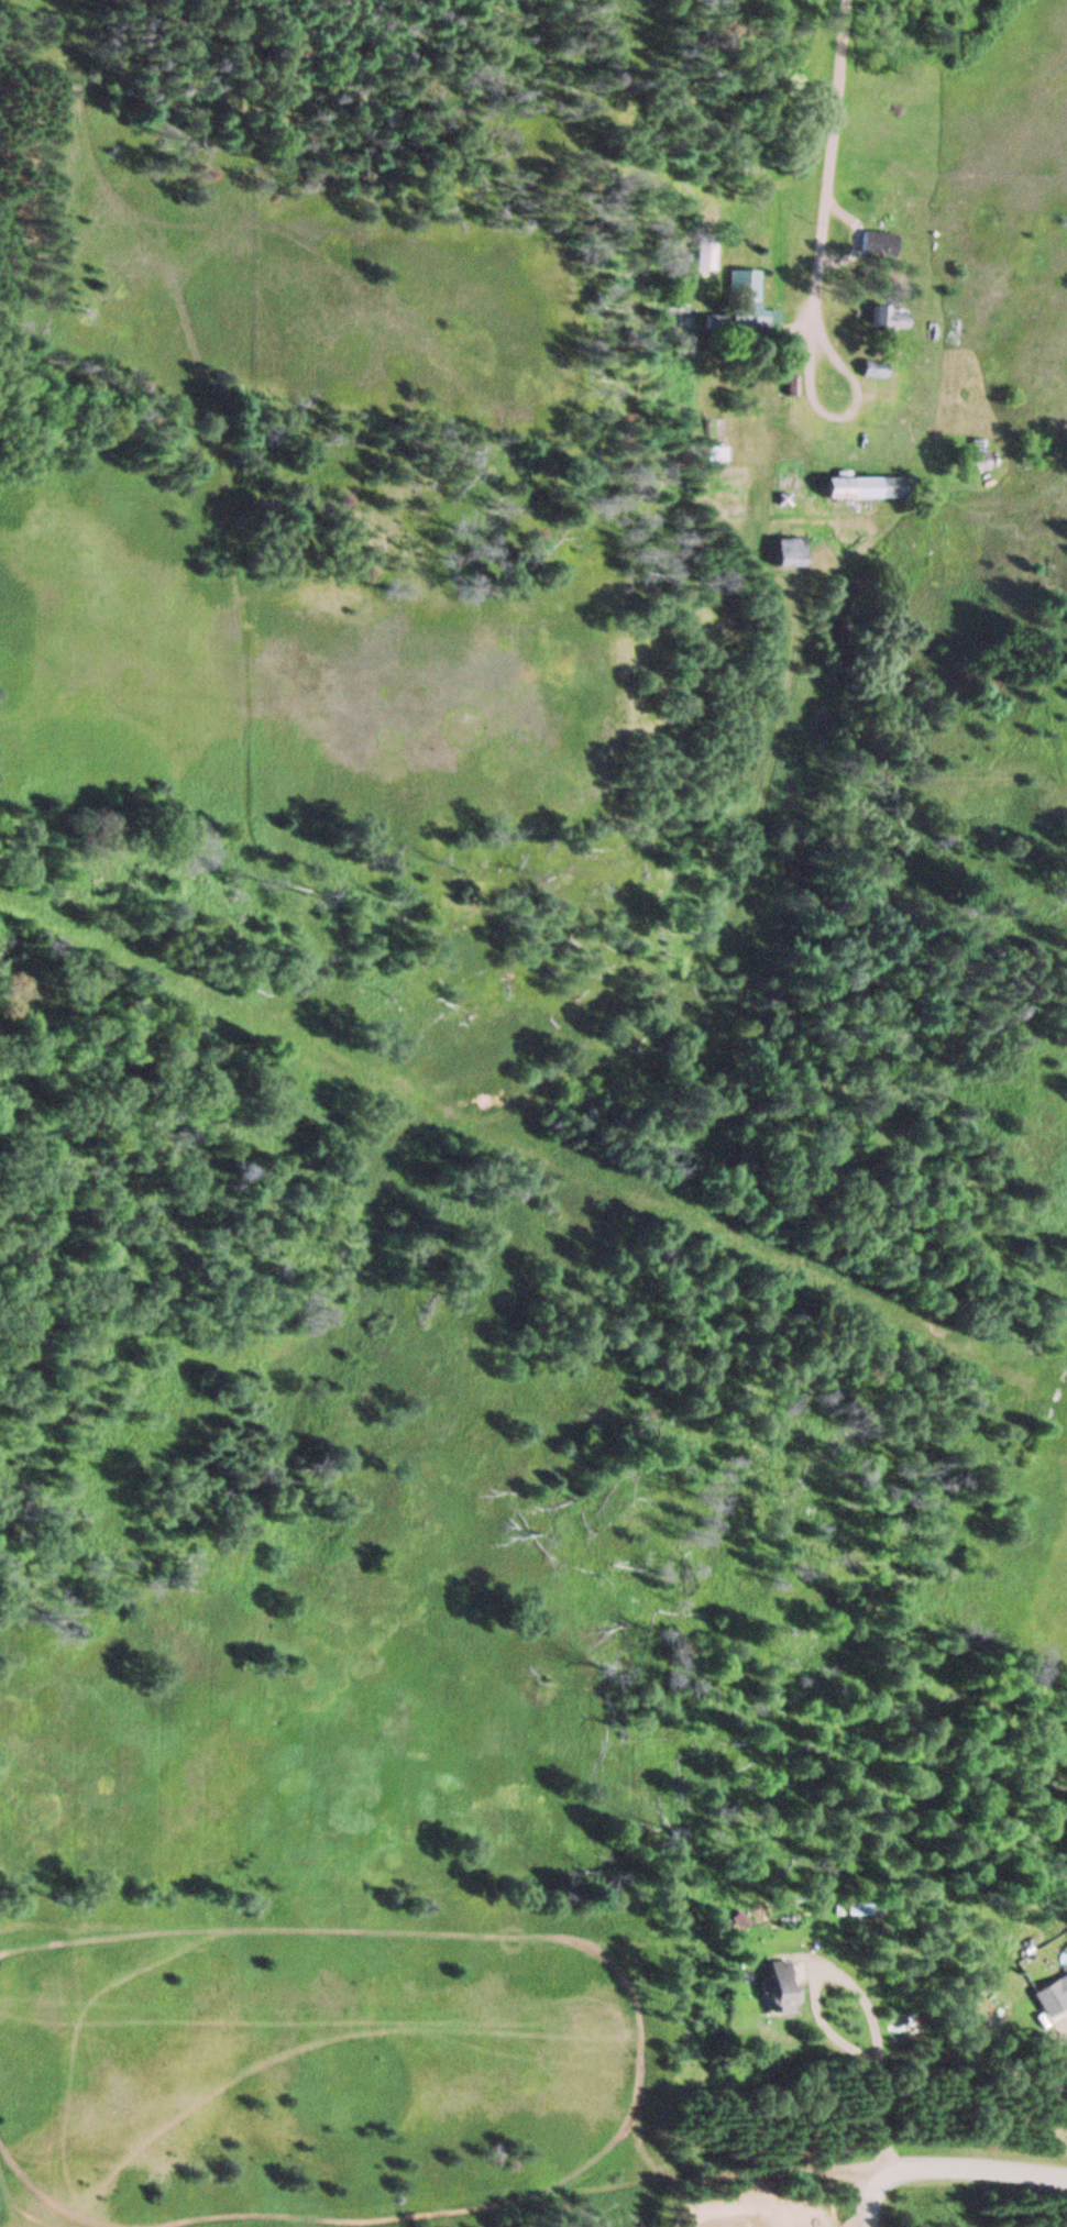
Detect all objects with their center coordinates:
building: (877, 246)
building: (747, 306)
building: (887, 319)
building: (714, 455)
building: (849, 488)
building: (769, 1989)
building: (1049, 1995)
road: (959, 2174)

